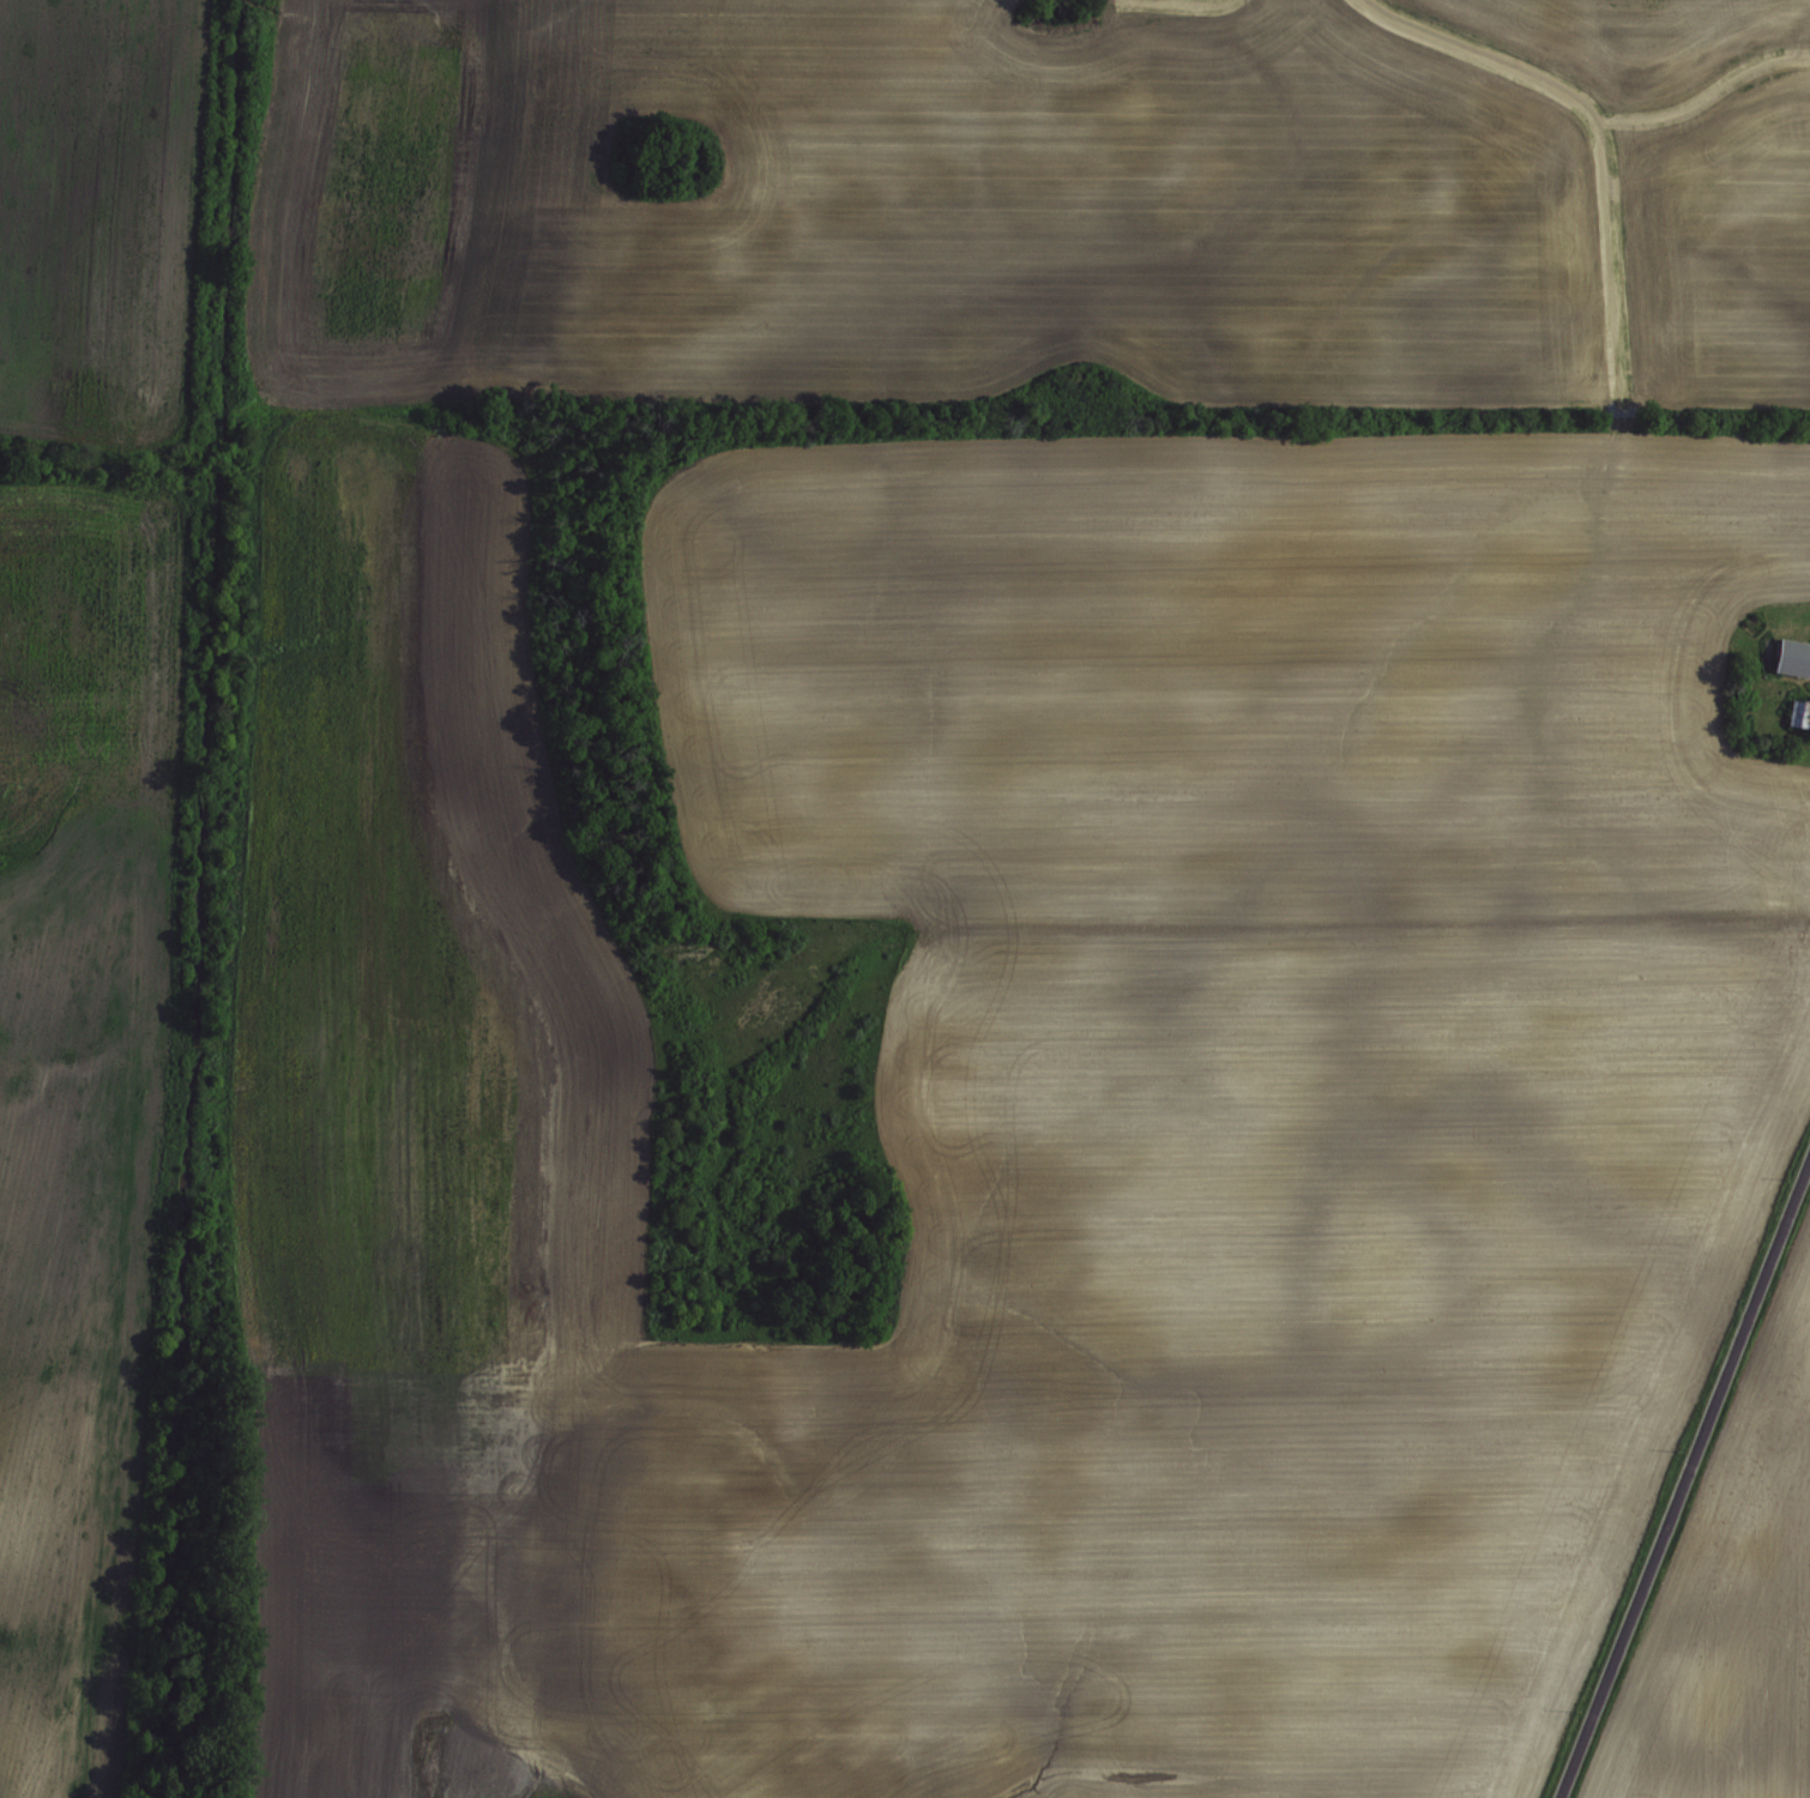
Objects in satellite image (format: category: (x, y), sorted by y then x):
building: (1786, 656)
building: (1797, 712)
road: (1682, 1474)

